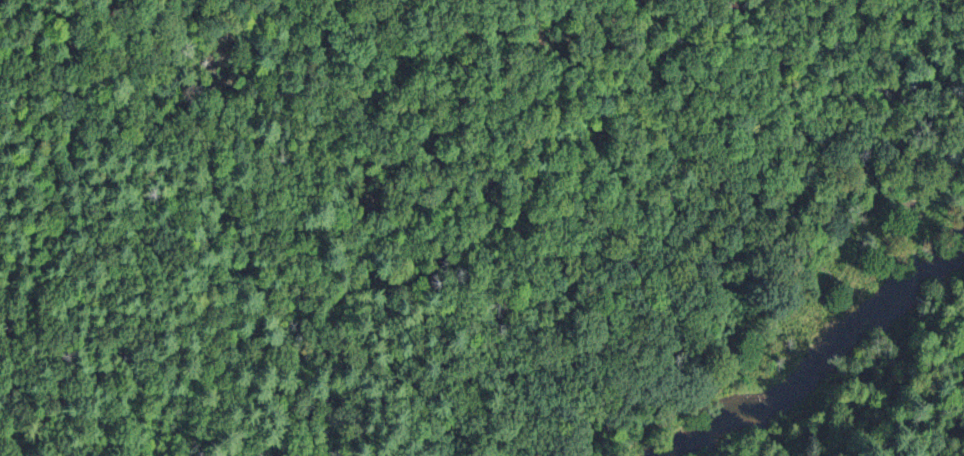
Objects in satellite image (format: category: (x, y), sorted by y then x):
road: (743, 214)
river: (825, 360)
road: (290, 387)
road: (185, 444)

